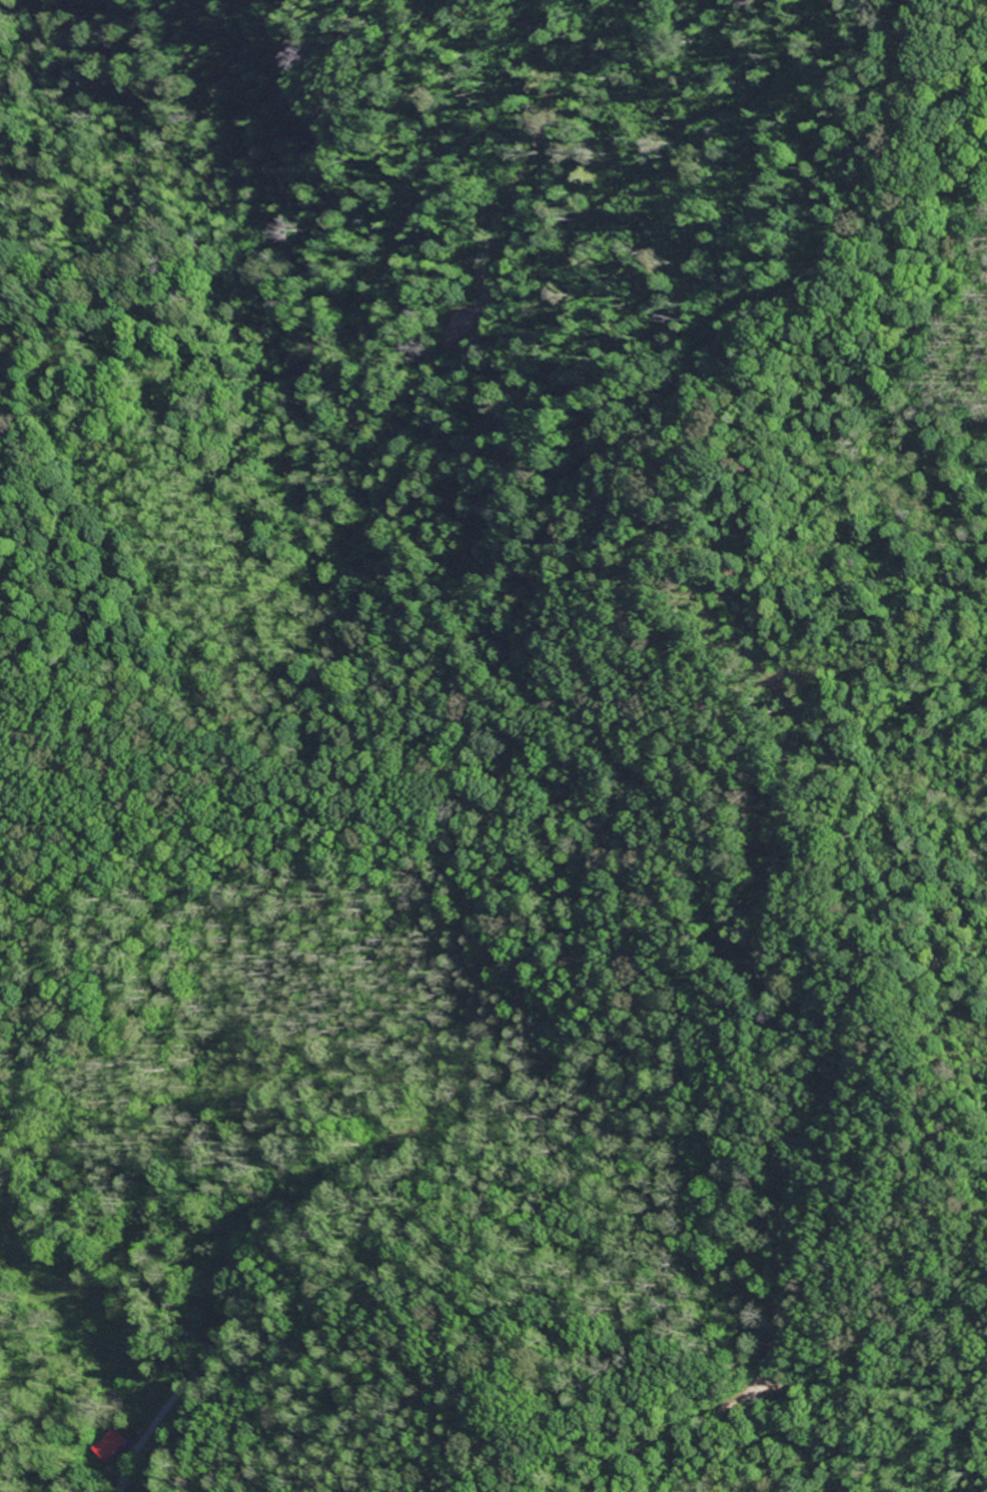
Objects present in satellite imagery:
road: (43, 634)
road: (645, 1319)
road: (151, 1422)

